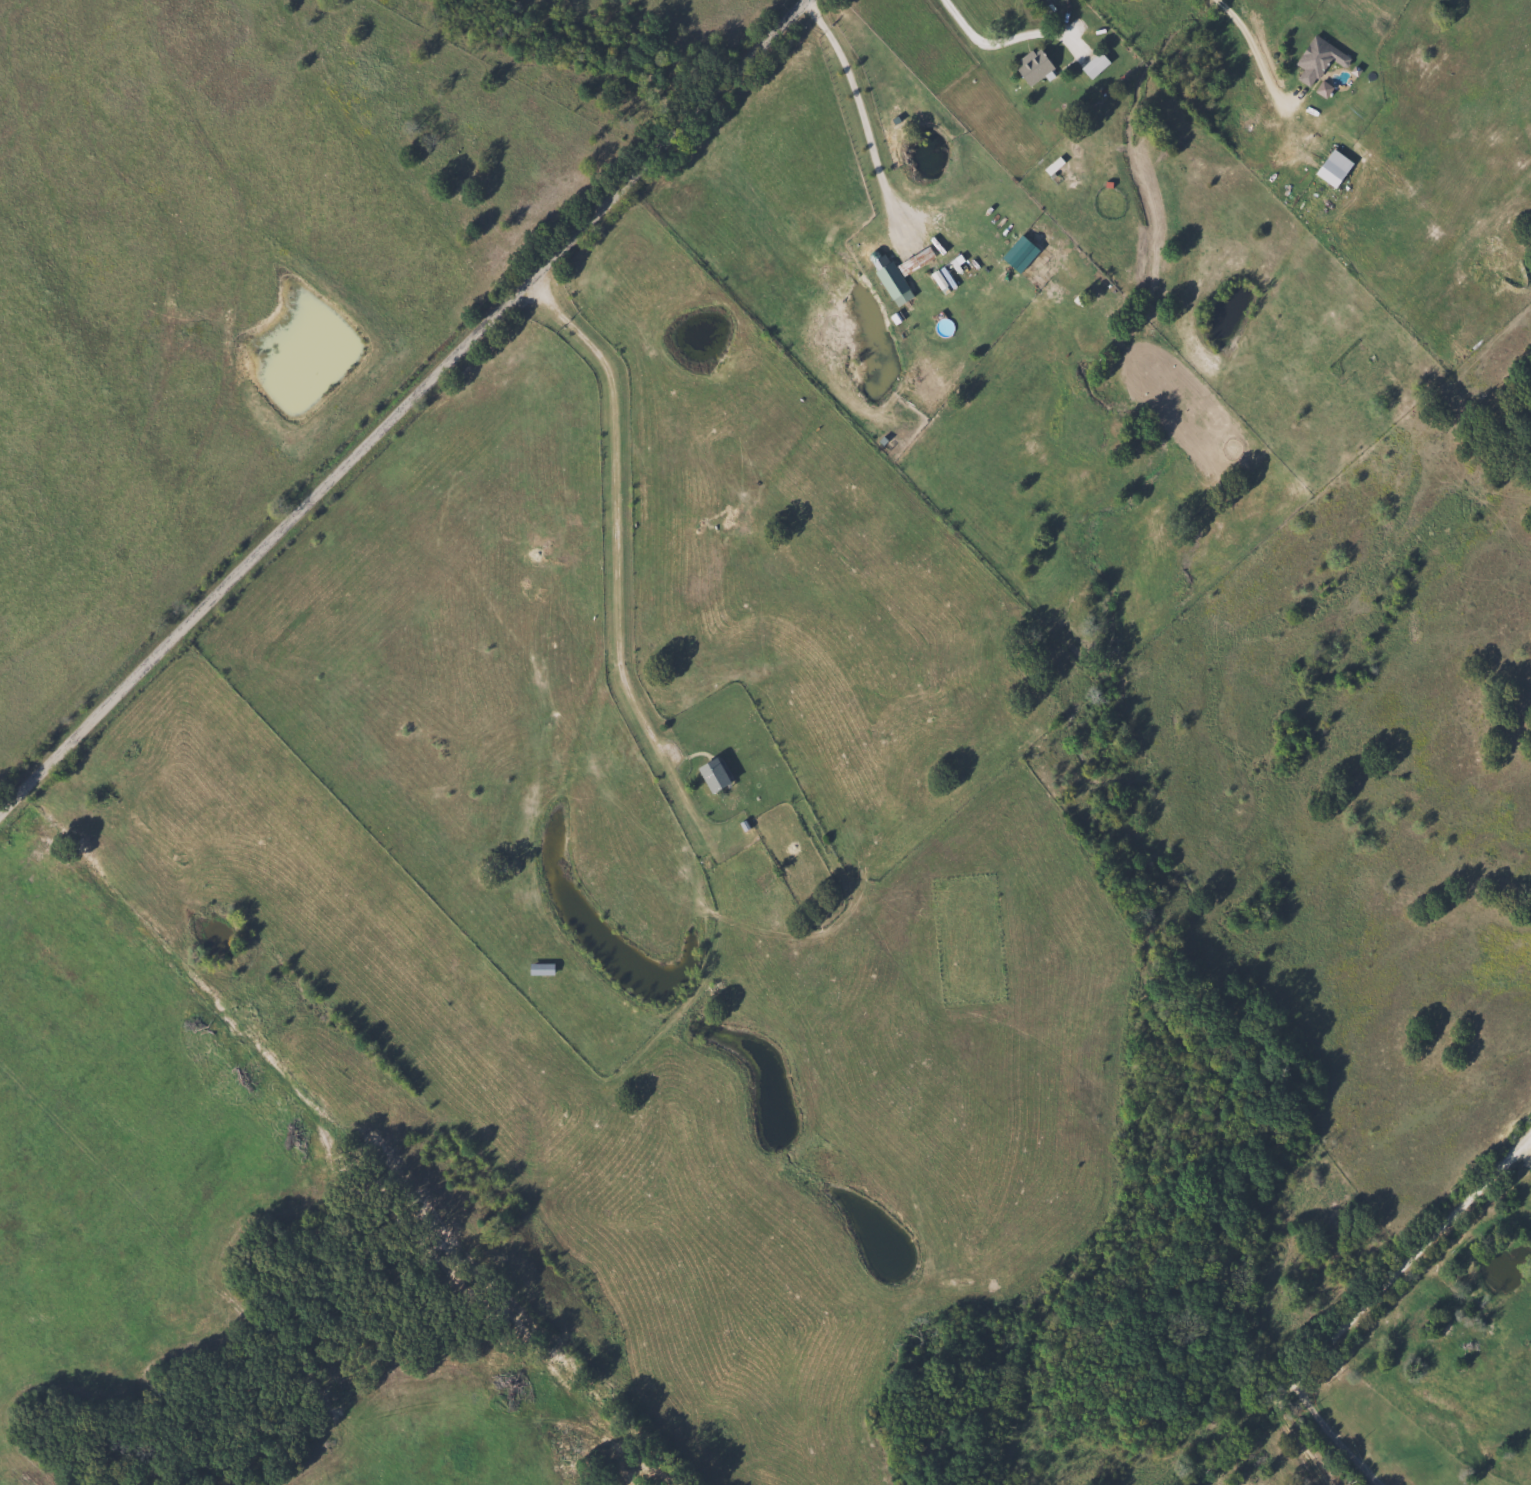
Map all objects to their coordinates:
road: (1004, 43)
road: (1252, 46)
building: (1317, 59)
building: (1093, 65)
building: (1031, 67)
road: (862, 118)
building: (1331, 169)
building: (892, 284)
road: (403, 405)
road: (620, 499)
building: (710, 774)
building: (539, 968)
road: (1524, 1156)
road: (1353, 1307)
road: (1334, 1434)

